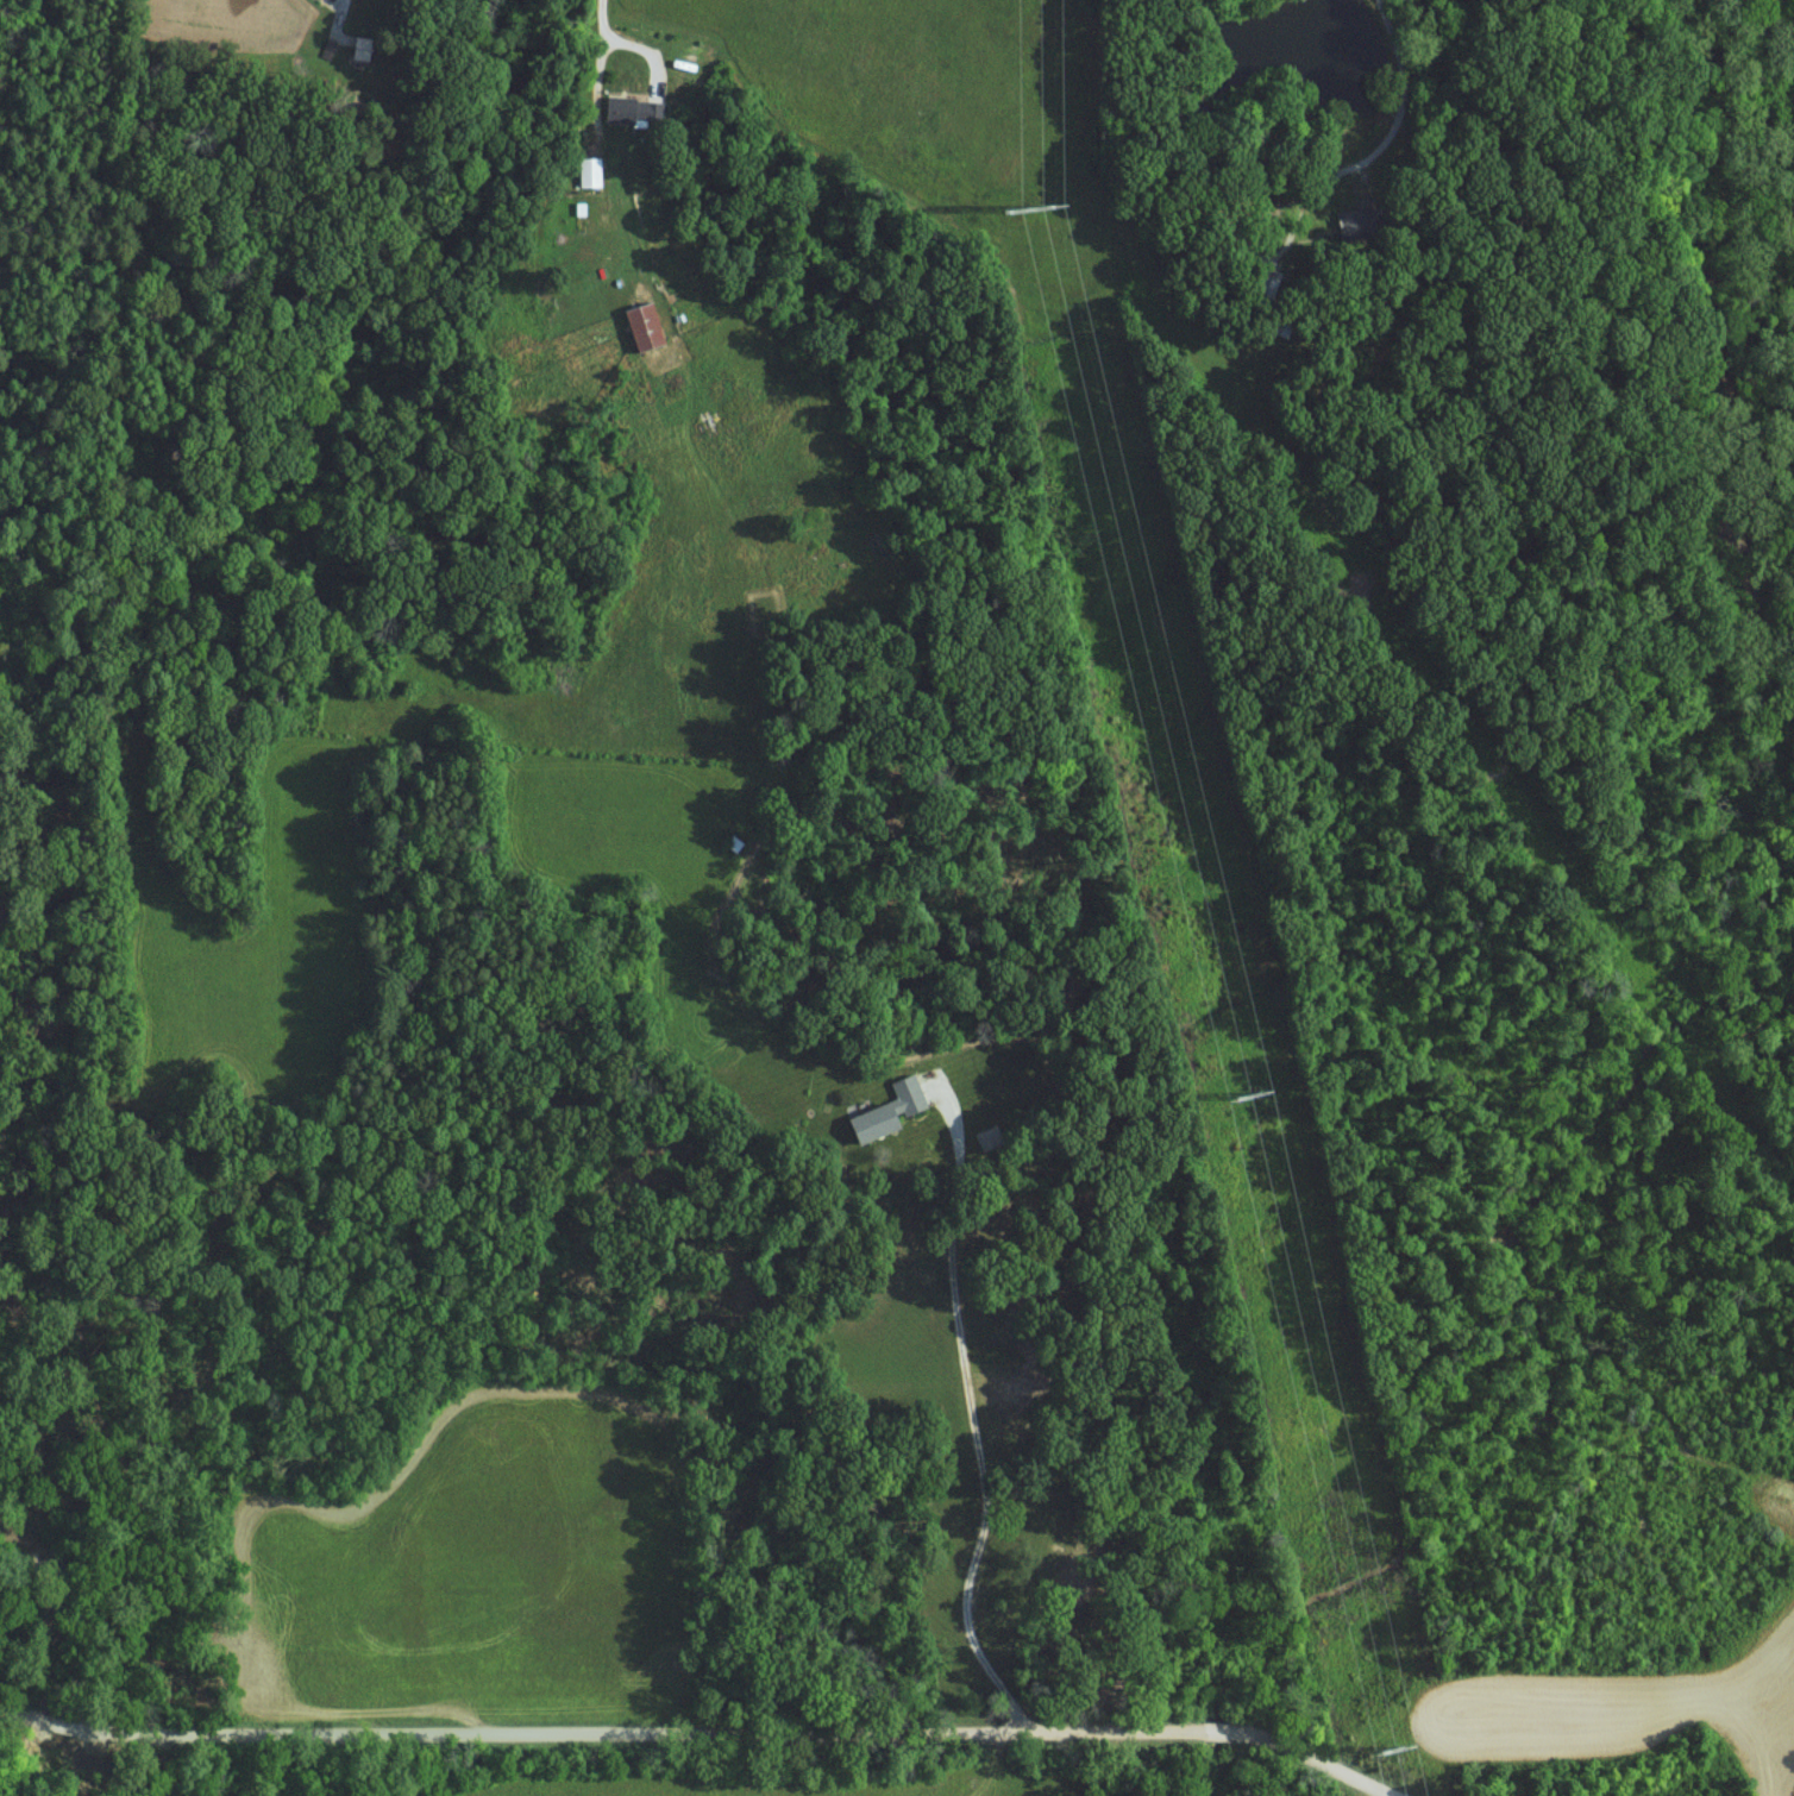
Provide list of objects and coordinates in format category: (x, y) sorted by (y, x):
road: (613, 37)
building: (628, 109)
building: (586, 170)
power tower: (1043, 208)
building: (1350, 219)
building: (641, 324)
building: (903, 1095)
power tower: (1249, 1098)
building: (865, 1123)
road: (977, 1408)
road: (700, 1732)
power tower: (1400, 1747)

